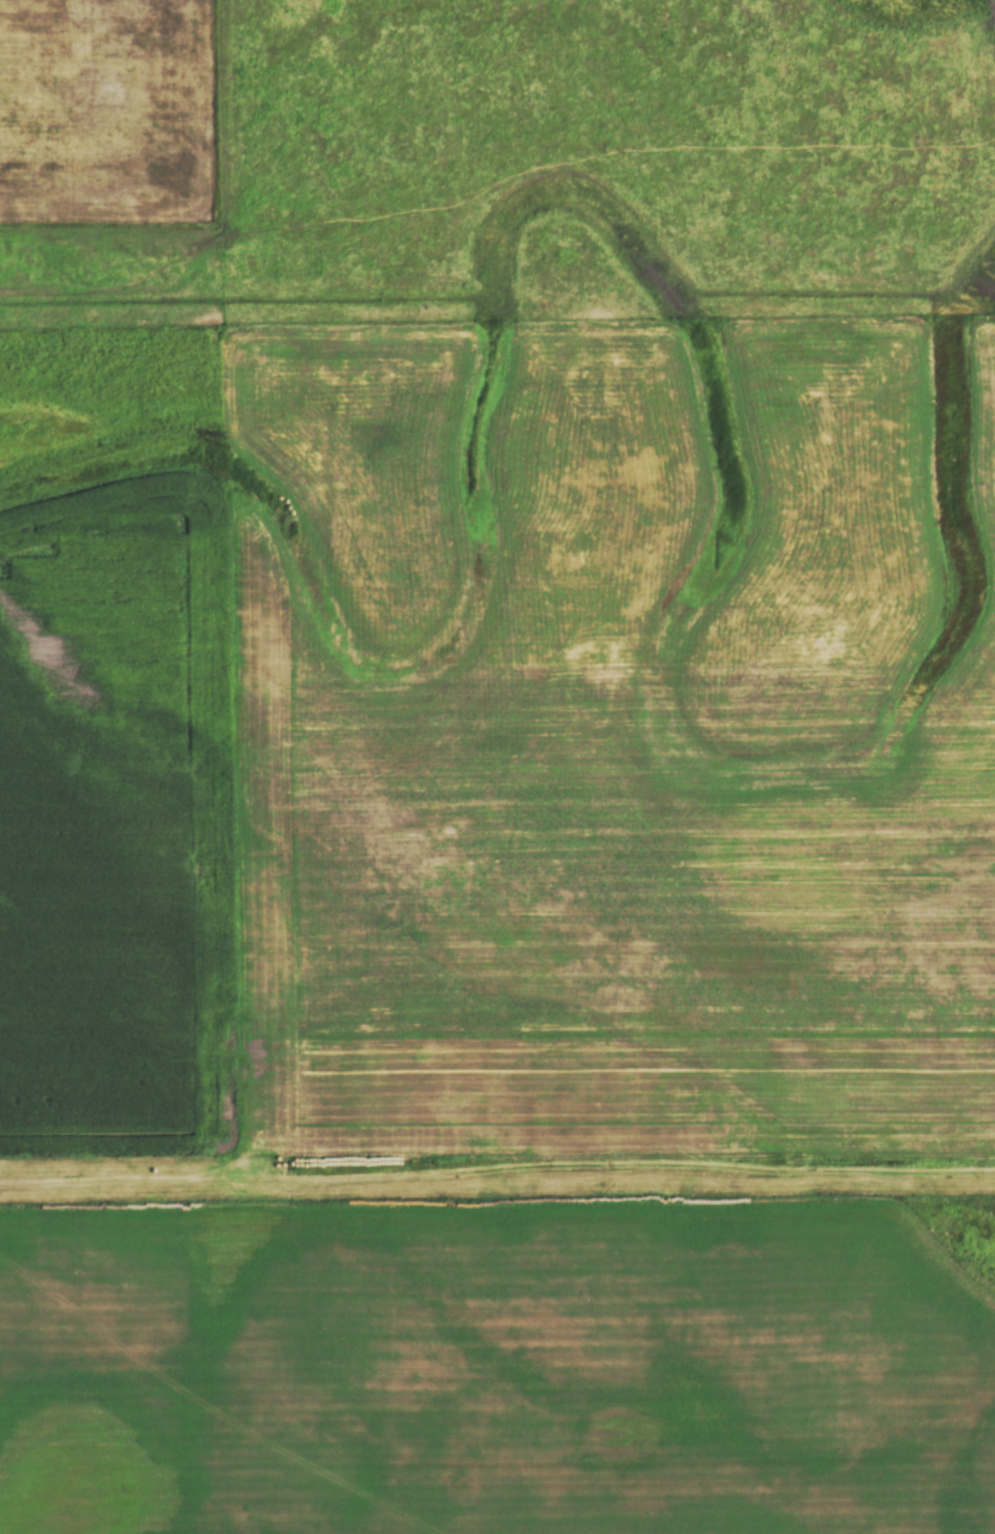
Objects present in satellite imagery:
road: (497, 1170)

